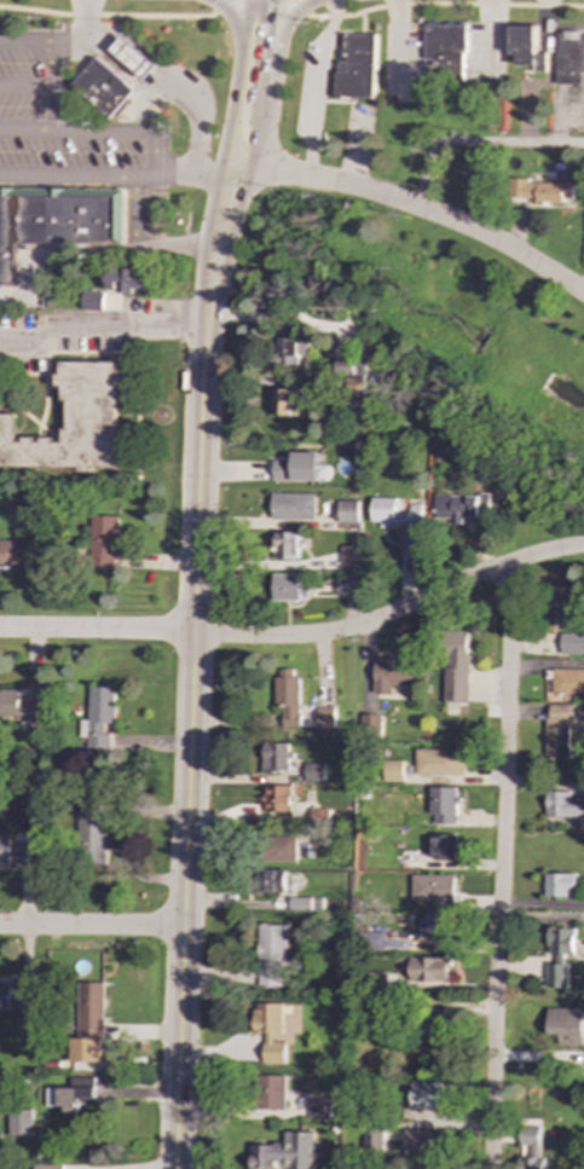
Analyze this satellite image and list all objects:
road: (434, 2)
road: (115, 16)
road: (233, 17)
road: (28, 40)
road: (282, 47)
building: (526, 47)
building: (445, 48)
road: (268, 52)
building: (569, 57)
building: (134, 59)
road: (56, 63)
building: (357, 66)
road: (28, 86)
road: (320, 87)
building: (103, 88)
road: (155, 91)
road: (54, 109)
road: (102, 132)
road: (259, 134)
road: (478, 144)
road: (225, 147)
road: (37, 174)
road: (116, 176)
road: (189, 179)
building: (542, 190)
road: (411, 206)
building: (57, 219)
road: (231, 231)
building: (127, 279)
building: (92, 300)
road: (207, 313)
road: (102, 329)
park: (438, 330)
building: (291, 351)
building: (355, 387)
building: (285, 401)
building: (75, 422)
building: (297, 467)
building: (294, 507)
building: (459, 507)
building: (348, 511)
building: (400, 520)
building: (104, 540)
building: (288, 545)
building: (13, 552)
building: (349, 557)
building: (349, 583)
building: (289, 586)
building: (565, 606)
road: (300, 636)
building: (572, 643)
building: (456, 666)
building: (391, 675)
building: (563, 682)
building: (288, 695)
building: (21, 708)
building: (99, 717)
building: (325, 717)
building: (369, 723)
building: (557, 731)
road: (191, 750)
building: (276, 757)
building: (438, 762)
building: (313, 771)
building: (392, 771)
building: (274, 799)
building: (444, 805)
building: (562, 805)
building: (320, 828)
building: (93, 832)
building: (443, 846)
building: (278, 849)
building: (17, 851)
road: (502, 868)
building: (268, 880)
building: (560, 884)
building: (433, 889)
building: (436, 924)
road: (92, 927)
building: (375, 939)
building: (561, 942)
building: (272, 953)
building: (428, 968)
building: (556, 976)
building: (15, 999)
building: (435, 1020)
building: (88, 1024)
building: (566, 1024)
building: (271, 1030)
building: (271, 1092)
building: (73, 1094)
building: (429, 1094)
building: (319, 1107)
building: (19, 1121)
building: (426, 1141)
building: (285, 1152)
building: (530, 1153)
building: (48, 1165)

